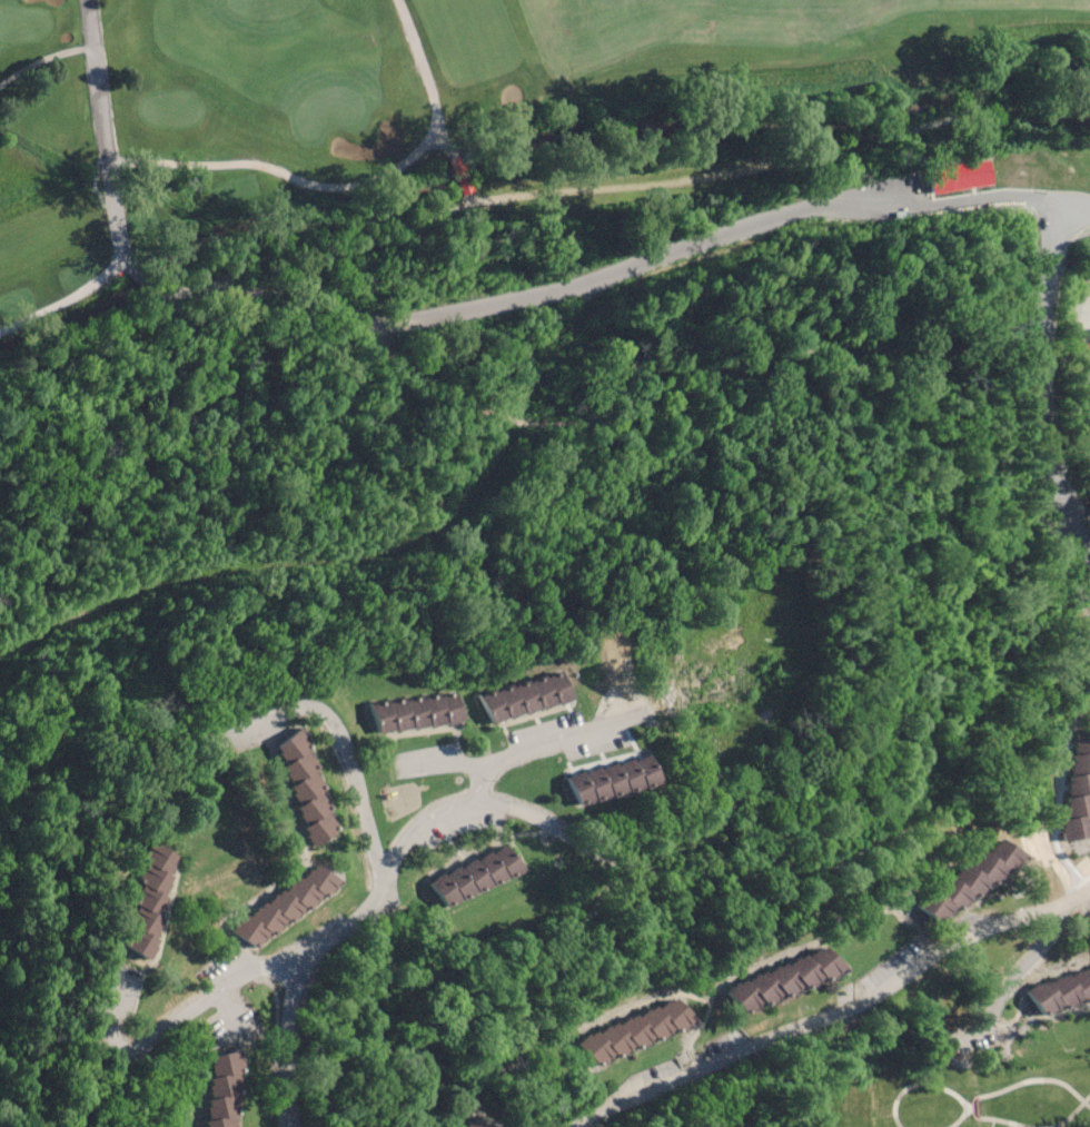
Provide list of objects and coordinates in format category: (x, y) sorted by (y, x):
road: (42, 60)
park: (479, 110)
road: (452, 162)
road: (626, 182)
building: (462, 184)
road: (345, 187)
road: (110, 198)
road: (132, 268)
road: (159, 288)
building: (1083, 357)
road: (1037, 379)
building: (525, 696)
building: (415, 713)
road: (579, 732)
road: (446, 765)
building: (613, 777)
building: (303, 787)
building: (1078, 787)
road: (479, 802)
building: (475, 871)
building: (969, 873)
road: (381, 888)
building: (147, 898)
building: (284, 903)
road: (1027, 958)
building: (784, 977)
building: (1059, 991)
road: (834, 1009)
road: (225, 1011)
road: (175, 1019)
building: (634, 1029)
building: (221, 1088)
building: (474, 1124)

